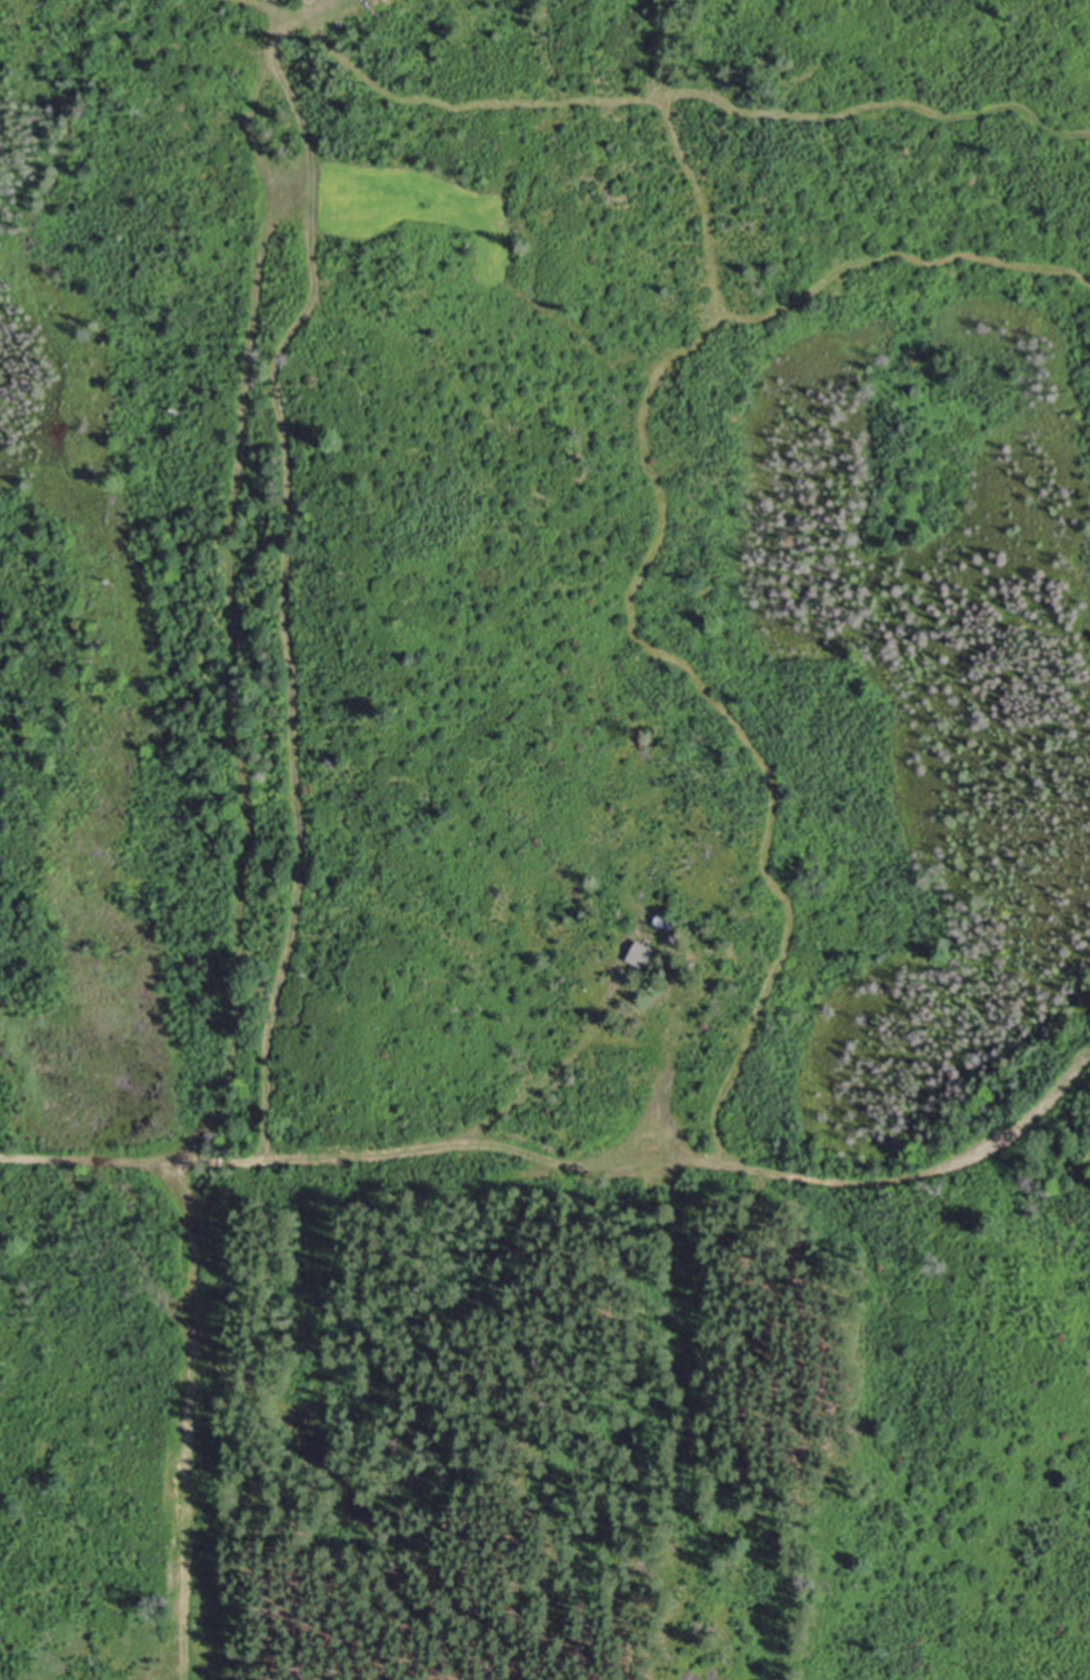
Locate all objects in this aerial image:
road: (240, 763)
building: (643, 954)
road: (446, 1144)
road: (853, 1167)

